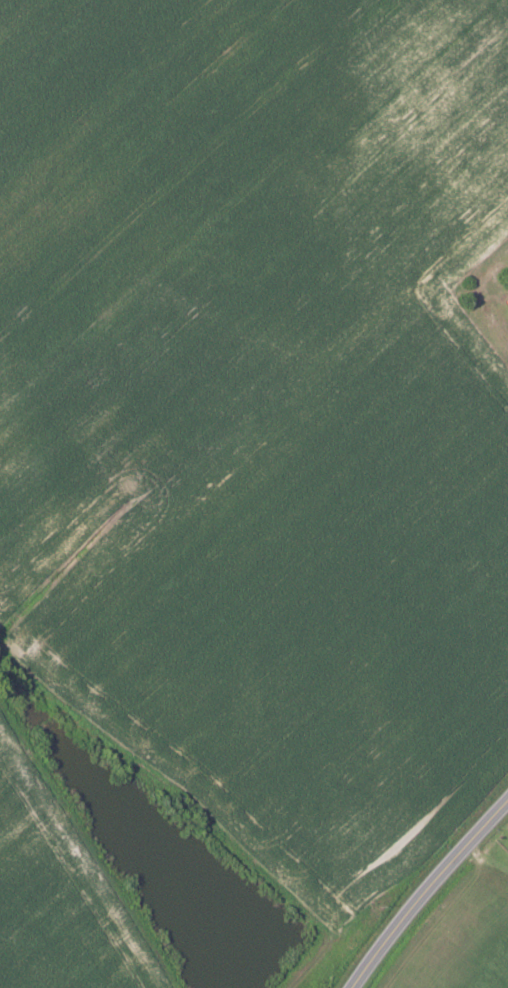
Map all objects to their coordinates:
road: (436, 906)

